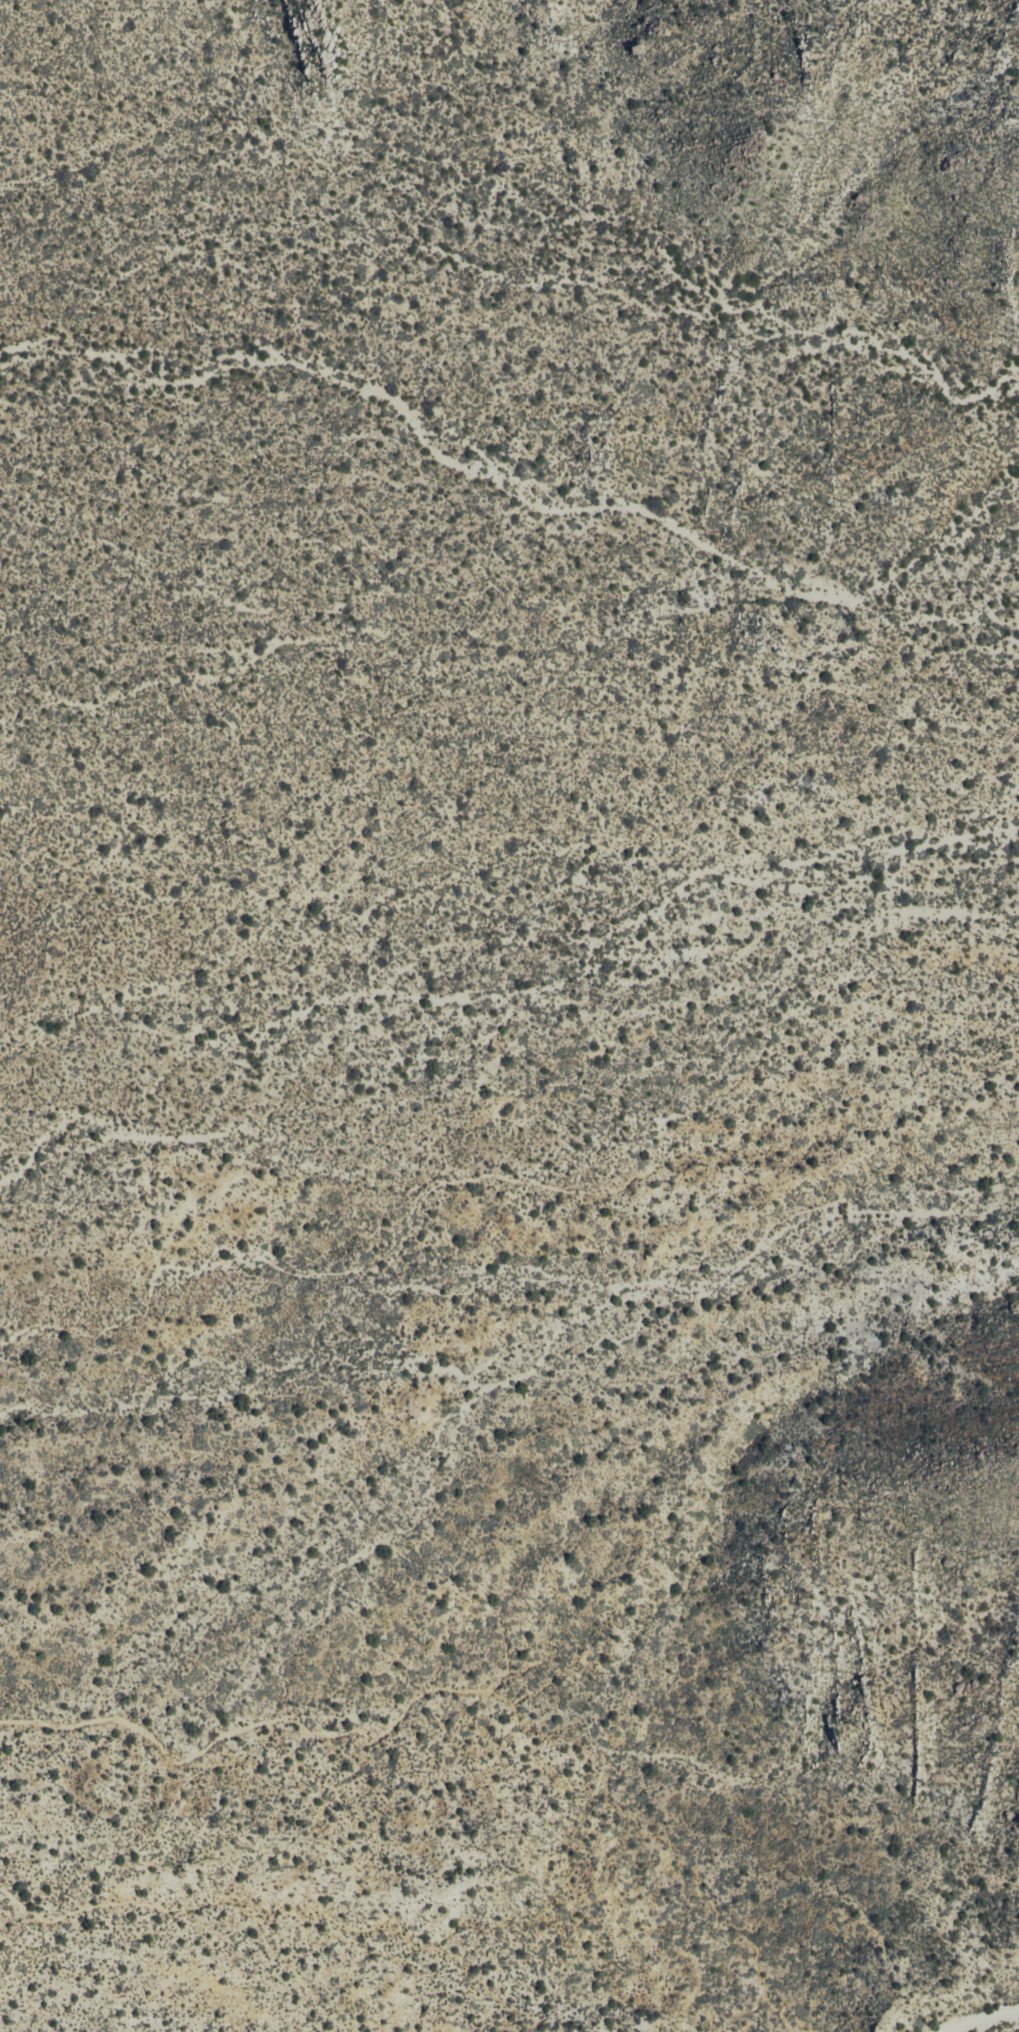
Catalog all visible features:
road: (978, 2021)

